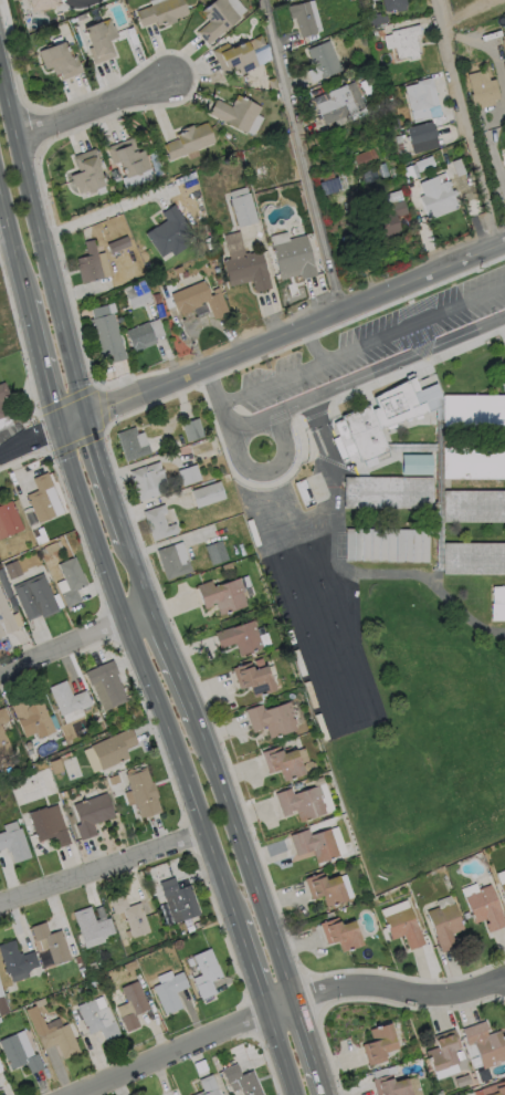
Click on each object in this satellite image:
building: (370, 0)
building: (40, 4)
building: (394, 4)
building: (162, 12)
building: (303, 19)
building: (217, 20)
building: (101, 41)
building: (404, 42)
building: (503, 44)
building: (234, 59)
building: (60, 61)
building: (323, 62)
building: (483, 90)
building: (420, 95)
building: (339, 103)
road: (92, 112)
building: (236, 113)
road: (464, 124)
building: (421, 134)
building: (189, 140)
building: (504, 148)
road: (304, 155)
building: (129, 159)
building: (365, 159)
building: (87, 173)
building: (330, 187)
building: (438, 198)
road: (104, 210)
building: (243, 210)
building: (388, 221)
building: (170, 233)
road: (42, 243)
road: (12, 248)
building: (293, 259)
building: (90, 264)
building: (248, 271)
building: (138, 298)
building: (200, 300)
building: (108, 337)
building: (140, 337)
road: (313, 344)
road: (252, 348)
road: (343, 351)
road: (40, 364)
road: (372, 371)
building: (2, 401)
building: (474, 413)
building: (376, 427)
building: (192, 430)
road: (233, 434)
building: (131, 445)
building: (415, 465)
building: (473, 466)
building: (189, 476)
road: (103, 479)
building: (149, 481)
building: (388, 493)
building: (208, 494)
building: (41, 499)
building: (475, 509)
building: (9, 520)
building: (159, 524)
building: (387, 545)
building: (215, 553)
building: (474, 560)
building: (171, 563)
road: (137, 575)
building: (72, 581)
building: (222, 596)
building: (35, 598)
building: (498, 604)
building: (8, 618)
building: (241, 638)
road: (74, 643)
road: (172, 664)
road: (143, 676)
building: (255, 678)
building: (107, 682)
building: (67, 699)
building: (32, 719)
building: (272, 720)
building: (3, 738)
building: (113, 749)
building: (283, 763)
building: (143, 793)
building: (302, 803)
building: (92, 814)
building: (49, 825)
building: (14, 843)
building: (315, 845)
road: (244, 857)
road: (101, 868)
building: (503, 888)
building: (326, 889)
building: (179, 901)
building: (485, 908)
building: (131, 916)
building: (92, 926)
building: (445, 927)
building: (404, 928)
building: (341, 935)
building: (52, 943)
building: (17, 961)
road: (252, 967)
building: (207, 973)
road: (400, 989)
building: (170, 991)
building: (134, 1005)
road: (282, 1007)
building: (96, 1021)
building: (54, 1035)
building: (485, 1044)
building: (379, 1045)
road: (311, 1047)
building: (443, 1051)
road: (172, 1053)
road: (281, 1053)
building: (19, 1055)
building: (459, 1055)
building: (482, 1076)
building: (242, 1081)
building: (208, 1086)
building: (390, 1086)
building: (494, 1089)
building: (439, 1093)

